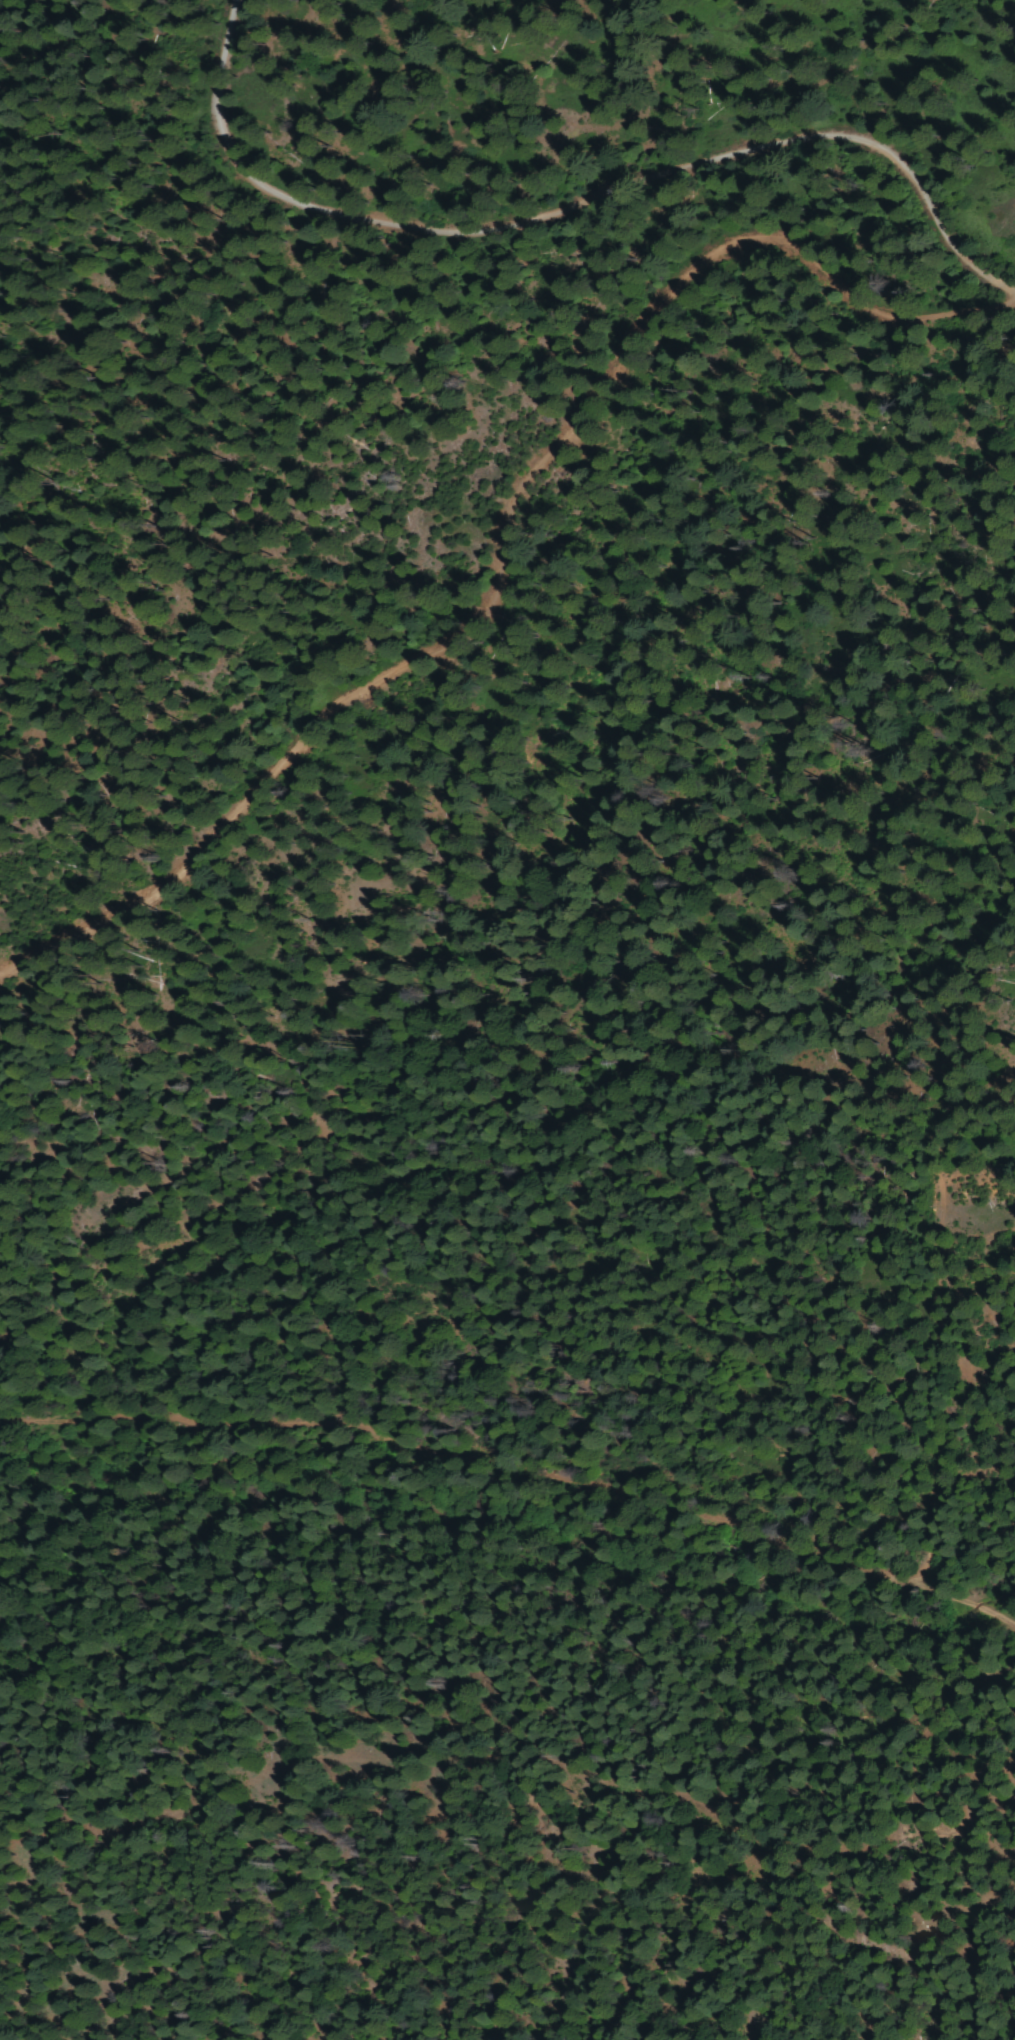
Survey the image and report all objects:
road: (613, 175)

